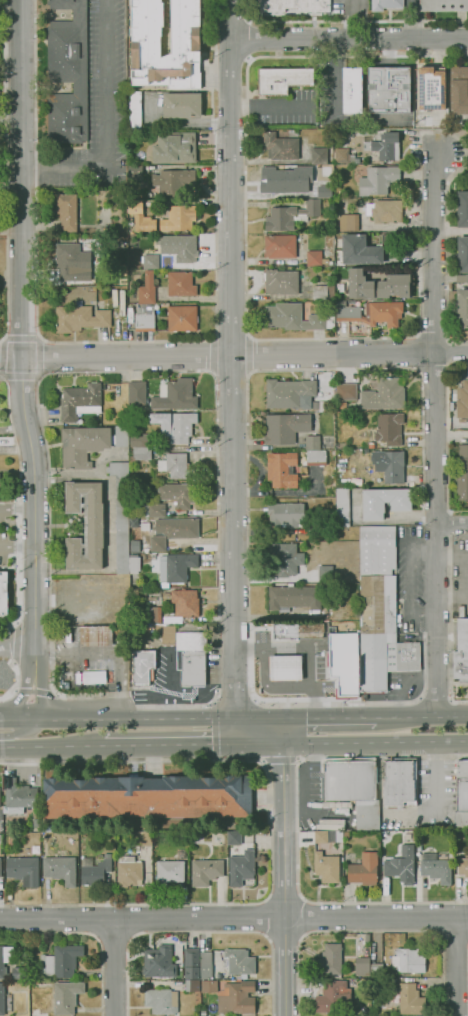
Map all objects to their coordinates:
building: (386, 4)
building: (294, 5)
building: (443, 5)
road: (231, 20)
road: (349, 21)
road: (249, 39)
road: (349, 39)
building: (185, 45)
road: (230, 61)
building: (67, 73)
building: (283, 79)
building: (432, 87)
building: (352, 90)
building: (388, 90)
building: (459, 90)
building: (182, 105)
road: (267, 106)
building: (134, 111)
road: (10, 115)
road: (103, 123)
building: (331, 144)
building: (281, 146)
building: (387, 146)
building: (175, 148)
building: (319, 155)
building: (341, 155)
building: (357, 160)
road: (5, 170)
building: (133, 170)
road: (229, 178)
building: (285, 180)
building: (378, 180)
building: (172, 181)
building: (324, 191)
building: (121, 193)
building: (154, 193)
building: (463, 209)
building: (67, 211)
building: (387, 211)
building: (290, 215)
building: (141, 217)
building: (179, 218)
building: (348, 222)
building: (404, 240)
building: (279, 246)
building: (178, 247)
building: (363, 249)
building: (462, 253)
building: (314, 258)
building: (68, 262)
building: (150, 262)
building: (462, 278)
building: (281, 281)
building: (181, 283)
building: (359, 284)
building: (394, 286)
building: (100, 288)
building: (147, 289)
building: (322, 291)
building: (115, 297)
building: (122, 302)
building: (462, 309)
building: (373, 313)
road: (21, 317)
building: (144, 317)
building: (80, 318)
building: (182, 318)
building: (295, 318)
road: (40, 338)
road: (323, 338)
road: (126, 341)
road: (449, 351)
road: (451, 351)
road: (418, 352)
road: (249, 354)
road: (214, 355)
road: (217, 358)
road: (0, 367)
road: (134, 371)
road: (21, 375)
road: (421, 379)
building: (346, 391)
building: (137, 393)
building: (289, 393)
building: (175, 395)
building: (384, 395)
building: (462, 399)
building: (80, 401)
building: (451, 405)
building: (131, 408)
building: (175, 425)
building: (285, 427)
building: (389, 429)
road: (434, 434)
road: (448, 436)
building: (140, 440)
building: (312, 442)
building: (89, 443)
building: (141, 453)
building: (316, 457)
building: (390, 465)
building: (176, 466)
building: (282, 469)
building: (462, 473)
building: (177, 494)
building: (385, 501)
road: (19, 505)
building: (342, 507)
road: (16, 508)
building: (156, 510)
building: (121, 514)
building: (286, 514)
road: (451, 522)
building: (85, 524)
road: (451, 524)
building: (145, 525)
building: (178, 528)
building: (158, 543)
road: (16, 545)
building: (146, 550)
road: (233, 551)
building: (288, 560)
building: (134, 563)
building: (176, 567)
building: (325, 573)
building: (135, 594)
building: (2, 595)
building: (153, 596)
building: (294, 597)
building: (185, 602)
building: (461, 611)
building: (380, 612)
building: (132, 613)
building: (152, 614)
road: (450, 618)
road: (16, 622)
building: (298, 630)
building: (96, 636)
road: (15, 638)
road: (16, 643)
road: (309, 651)
building: (461, 651)
building: (188, 654)
building: (344, 662)
building: (143, 666)
building: (286, 668)
gas station: (286, 668)
building: (92, 676)
road: (33, 677)
road: (16, 683)
road: (234, 699)
road: (421, 717)
road: (17, 718)
road: (157, 718)
traffic signals: (235, 718)
traffic signals: (281, 718)
road: (327, 718)
road: (17, 729)
road: (215, 730)
road: (281, 731)
road: (351, 743)
road: (168, 744)
traffic signals: (234, 744)
traffic signals: (282, 744)
road: (52, 746)
road: (279, 761)
building: (399, 783)
road: (283, 786)
building: (353, 787)
building: (462, 795)
building: (19, 796)
building: (148, 796)
building: (36, 823)
road: (296, 827)
road: (269, 831)
building: (345, 833)
building: (327, 836)
building: (234, 837)
building: (143, 838)
building: (11, 840)
building: (418, 842)
building: (459, 842)
building: (36, 849)
building: (107, 855)
building: (402, 865)
building: (328, 866)
building: (0, 867)
building: (241, 867)
building: (463, 867)
building: (435, 868)
building: (60, 869)
building: (128, 869)
building: (364, 869)
building: (23, 870)
building: (170, 871)
building: (206, 871)
building: (94, 872)
road: (284, 874)
road: (283, 896)
road: (266, 916)
road: (139, 918)
road: (233, 918)
road: (306, 918)
road: (84, 919)
road: (370, 931)
road: (199, 932)
road: (87, 933)
road: (284, 938)
road: (114, 939)
building: (5, 959)
building: (408, 960)
building: (61, 961)
building: (240, 961)
building: (329, 961)
building: (159, 962)
building: (191, 963)
building: (206, 965)
building: (362, 966)
road: (455, 966)
road: (114, 967)
road: (285, 967)
building: (377, 970)
building: (20, 973)
building: (364, 982)
building: (390, 984)
building: (19, 985)
building: (192, 985)
building: (66, 996)
building: (231, 996)
building: (333, 997)
building: (2, 999)
building: (410, 999)
building: (161, 1001)
building: (203, 1014)

